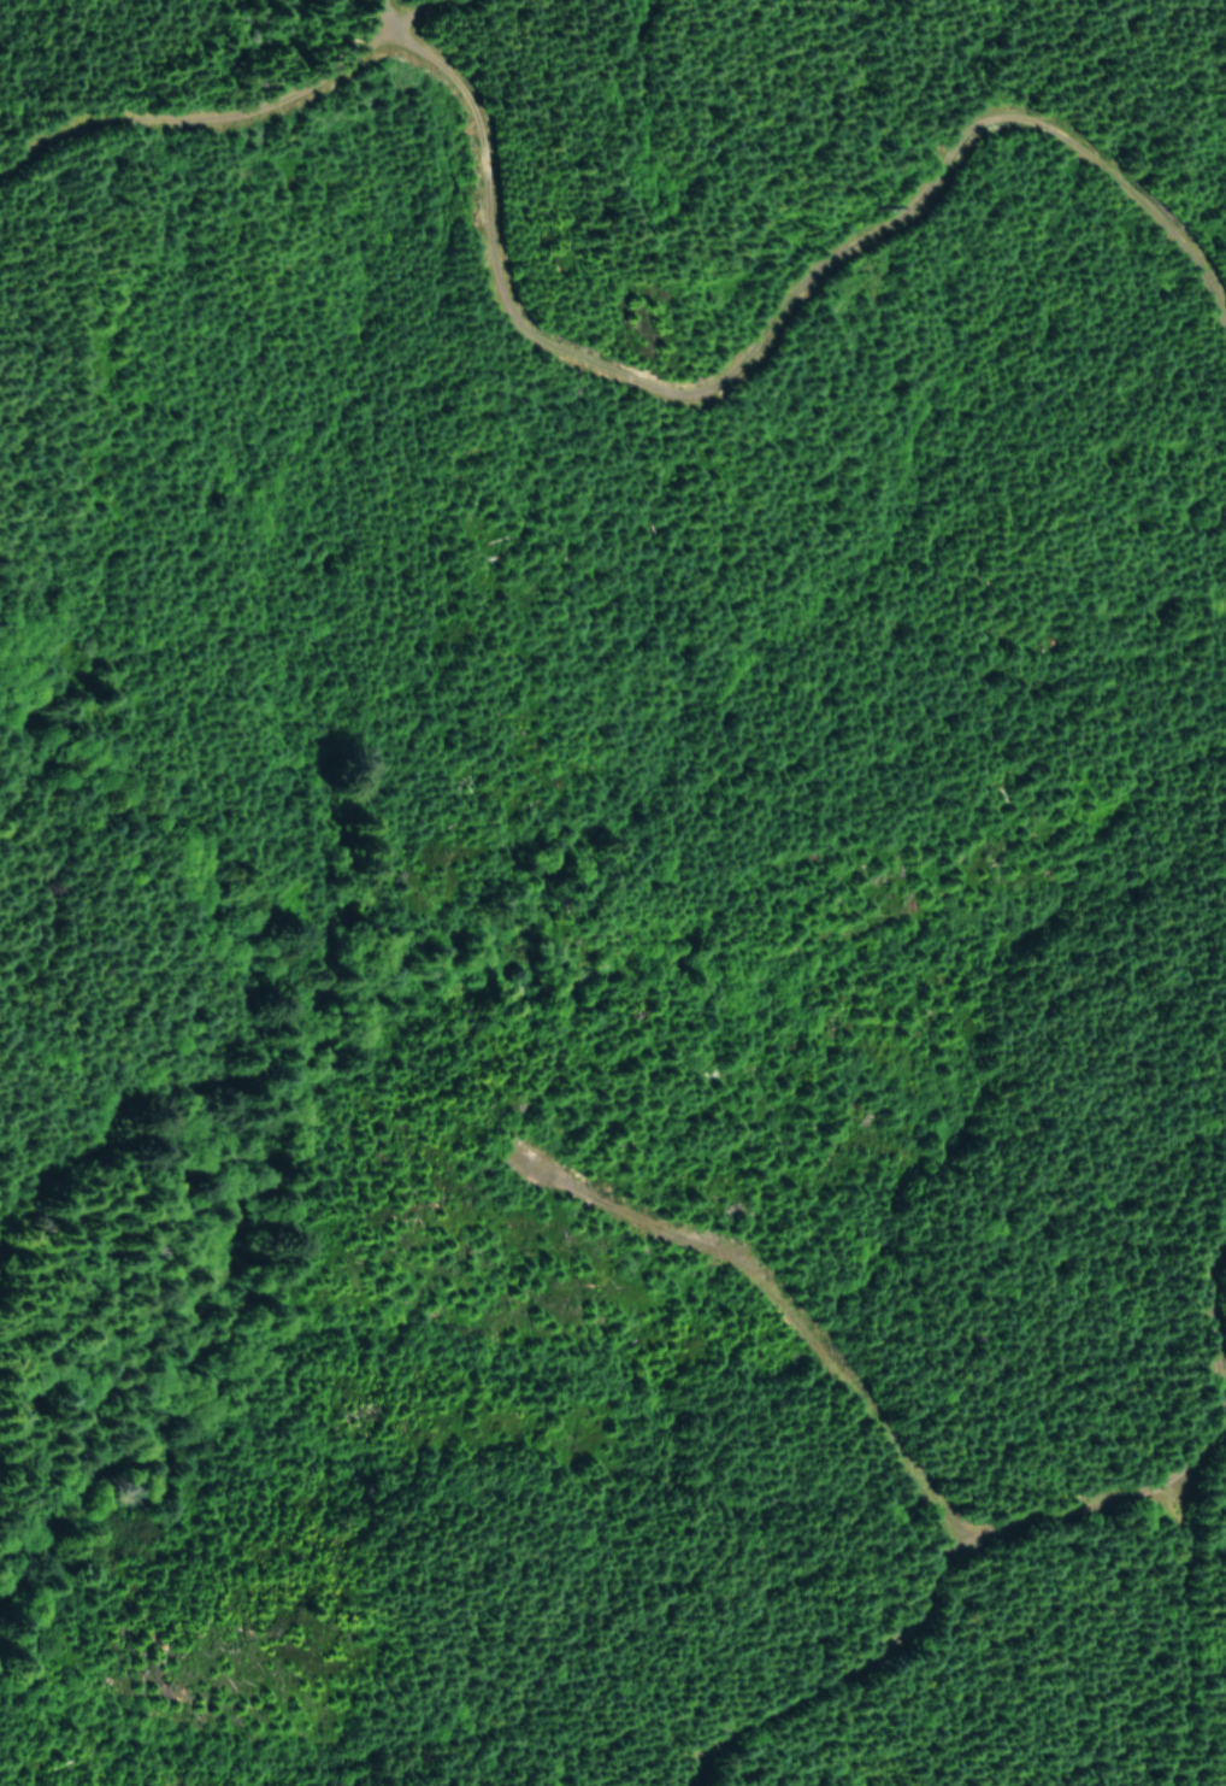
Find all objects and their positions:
road: (194, 74)
road: (1110, 725)
road: (590, 1766)

